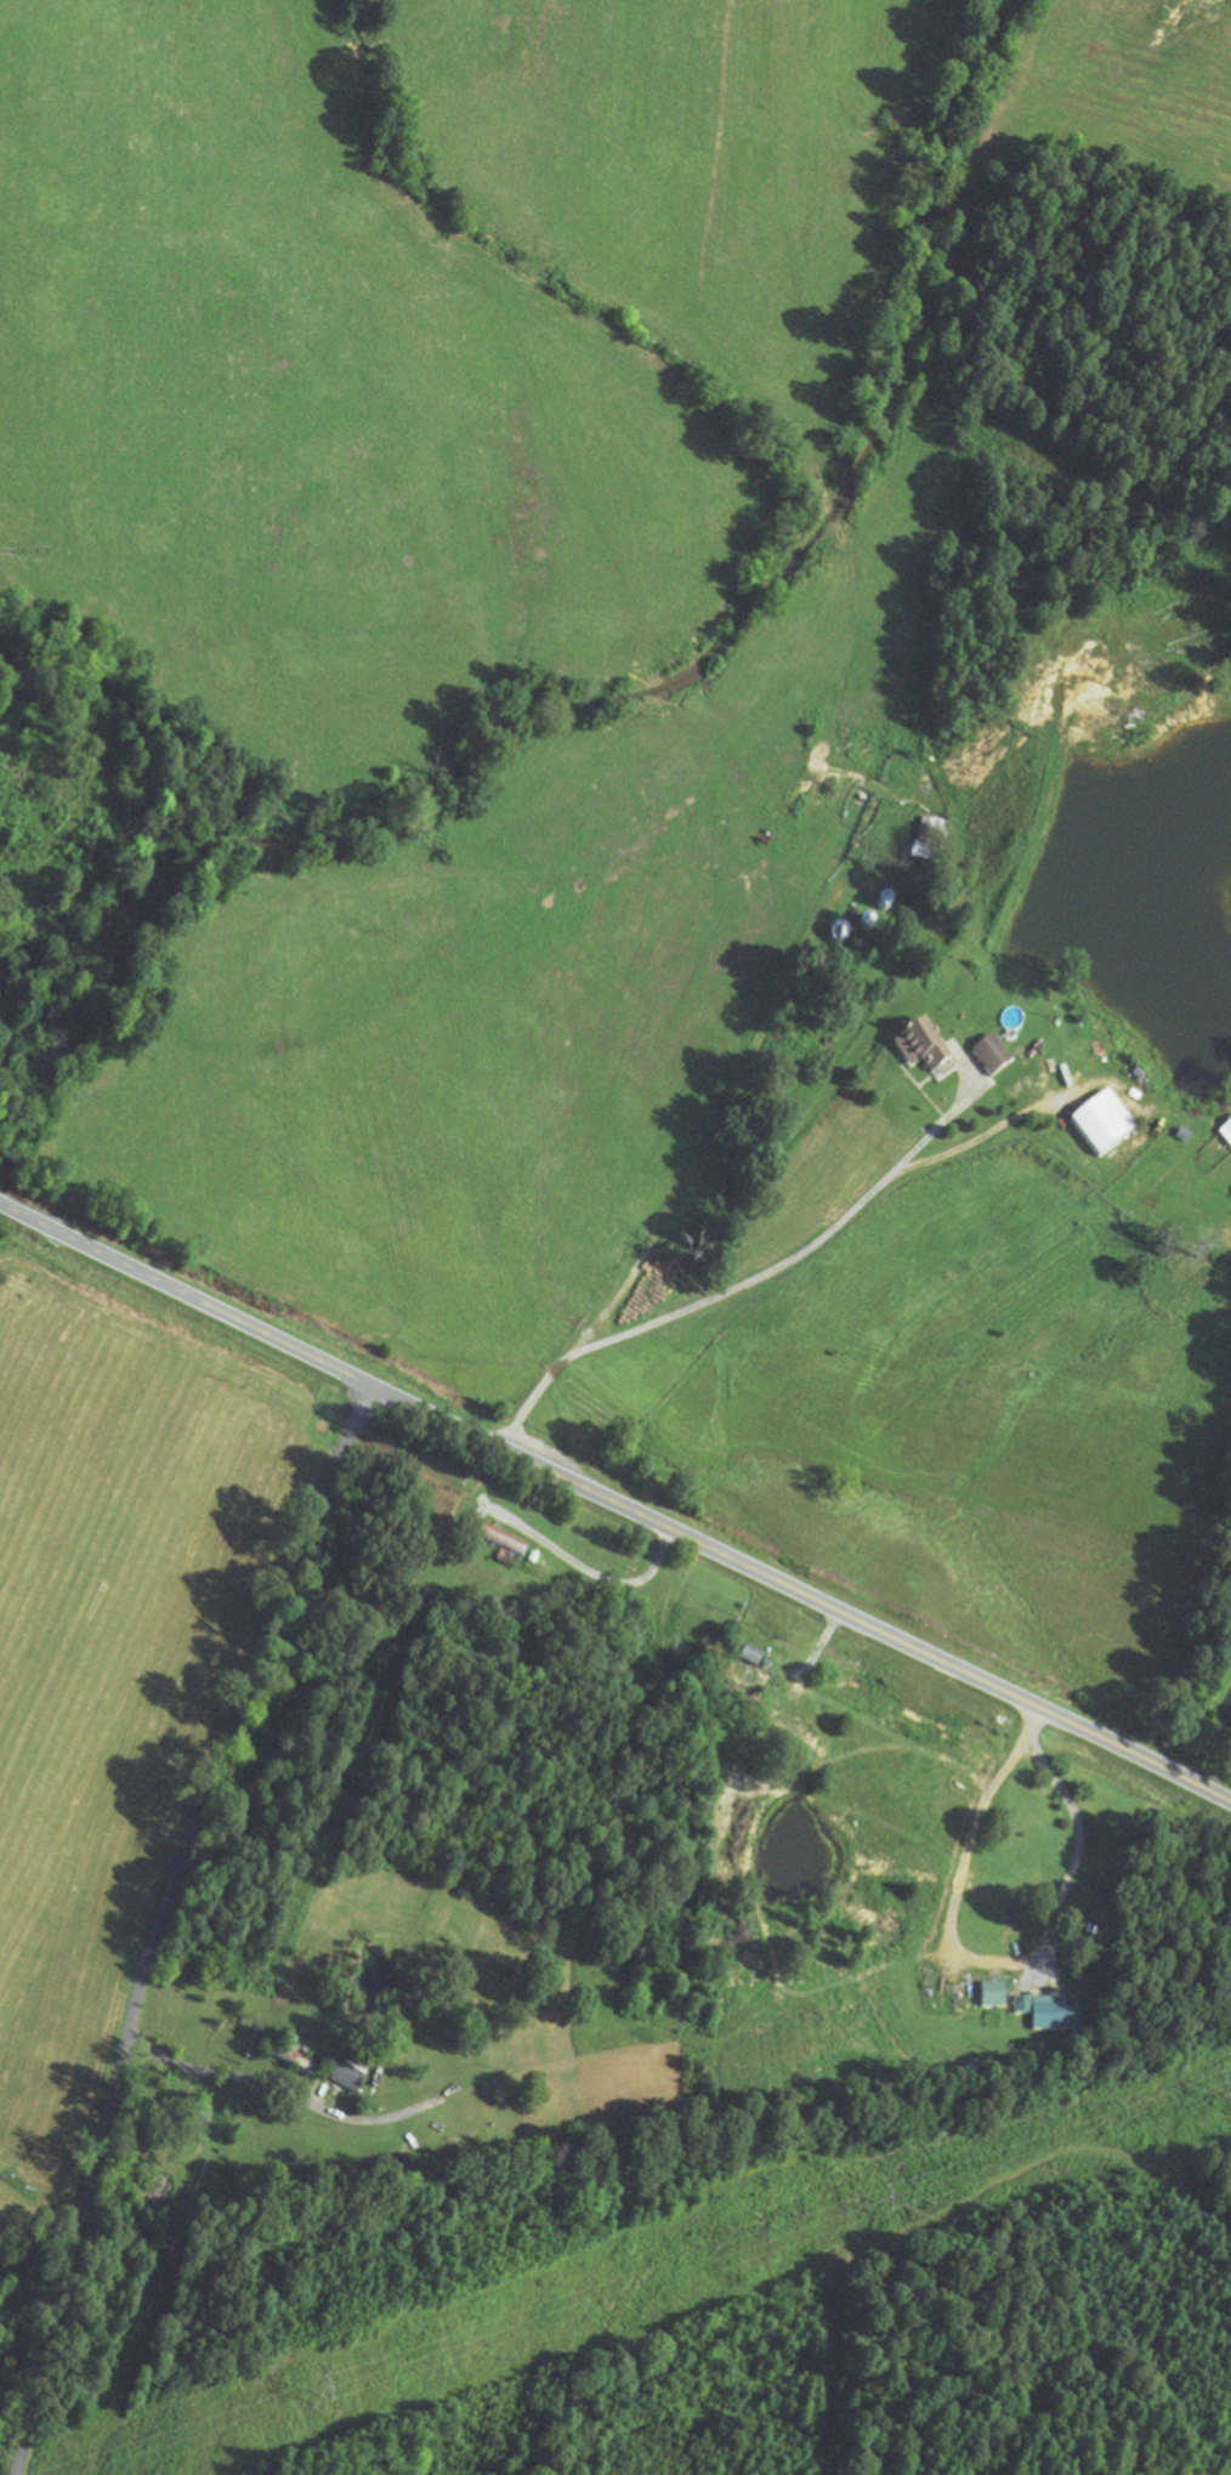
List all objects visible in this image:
building: (30, 797)
building: (931, 839)
building: (923, 1049)
building: (991, 1057)
building: (1101, 1126)
road: (615, 1504)
building: (500, 1543)
building: (749, 1658)
building: (792, 1726)
road: (161, 1919)
building: (992, 1996)
building: (1048, 2014)
building: (293, 2061)
building: (347, 2074)
road: (393, 2113)

